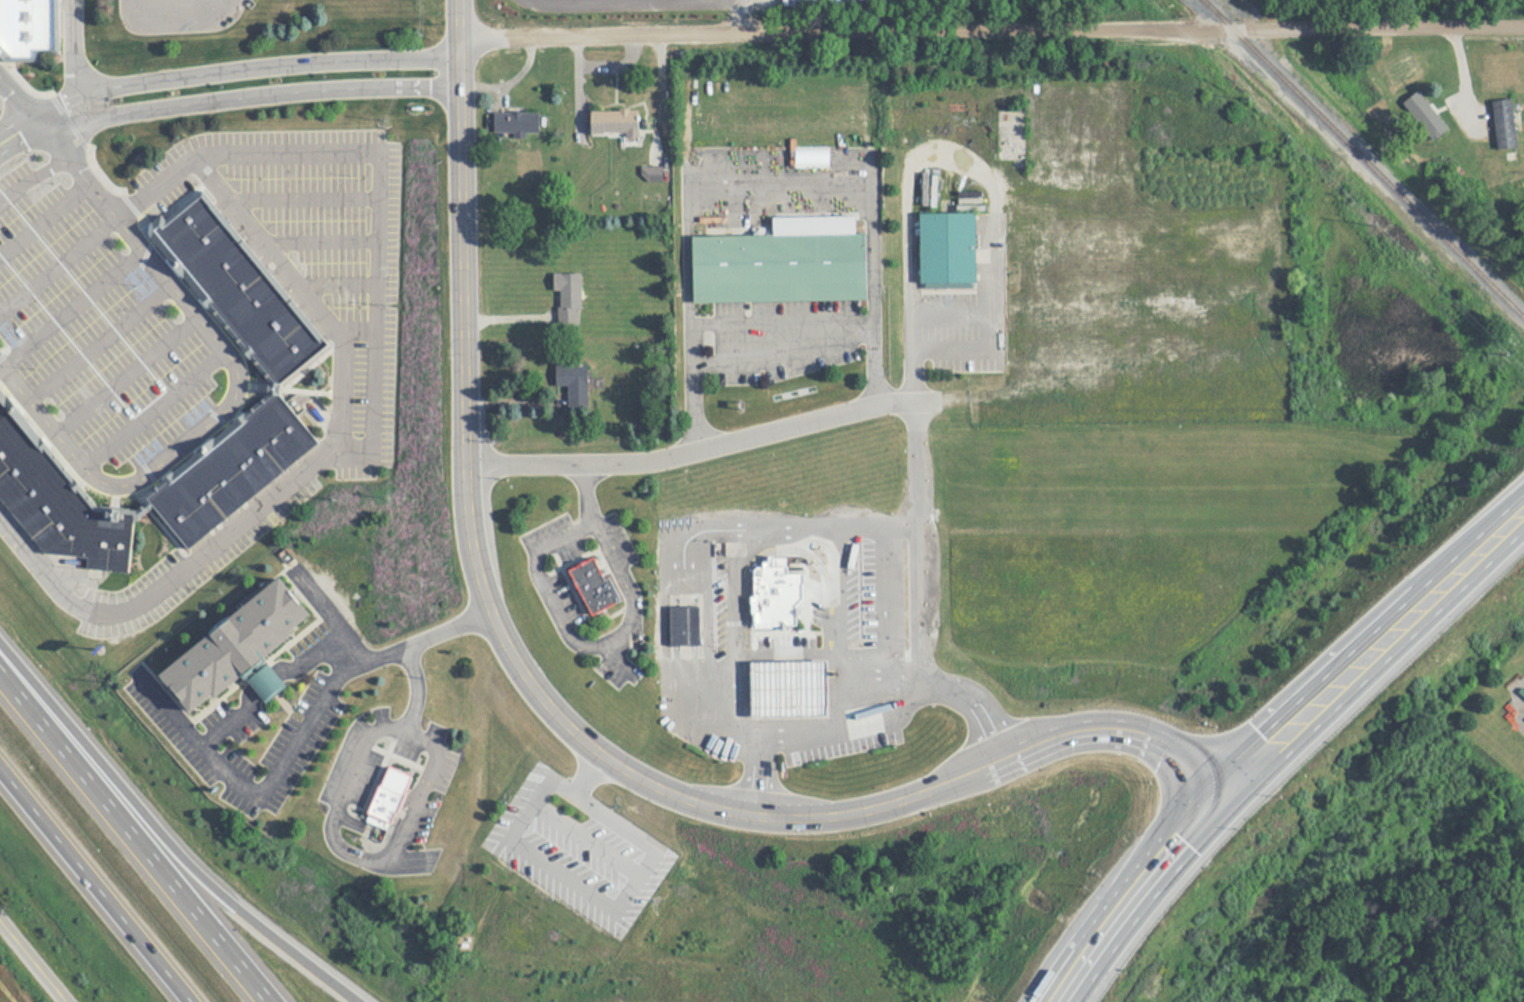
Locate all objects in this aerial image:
road: (156, 6)
building: (30, 29)
road: (991, 32)
road: (77, 53)
road: (265, 67)
road: (602, 67)
road: (268, 93)
building: (1425, 115)
road: (38, 119)
building: (615, 122)
building: (1505, 122)
building: (516, 123)
building: (1004, 135)
road: (956, 157)
railway: (1365, 157)
building: (653, 173)
road: (29, 181)
road: (751, 184)
road: (41, 221)
building: (948, 238)
road: (284, 256)
building: (780, 259)
road: (54, 265)
building: (238, 286)
building: (569, 289)
road: (71, 310)
road: (781, 323)
road: (95, 341)
road: (210, 351)
road: (770, 353)
road: (121, 373)
building: (574, 375)
road: (372, 392)
road: (699, 443)
building: (230, 469)
building: (60, 506)
road: (691, 520)
road: (867, 523)
road: (700, 531)
road: (922, 545)
building: (592, 587)
building: (778, 595)
road: (886, 601)
road: (331, 615)
building: (685, 625)
road: (693, 625)
road: (680, 626)
road: (729, 634)
road: (611, 635)
road: (1360, 638)
road: (431, 639)
building: (239, 646)
road: (353, 649)
road: (614, 652)
road: (303, 658)
road: (692, 670)
road: (1374, 674)
road: (269, 677)
road: (847, 677)
building: (789, 686)
road: (168, 707)
road: (554, 712)
road: (729, 729)
road: (851, 730)
road: (586, 770)
building: (385, 787)
road: (255, 792)
traffic signals: (1213, 801)
road: (606, 812)
road: (136, 831)
road: (332, 831)
road: (587, 838)
road: (525, 854)
road: (196, 874)
road: (634, 881)
road: (97, 883)
road: (1146, 886)
road: (34, 959)
road: (1056, 985)
road: (1066, 985)

